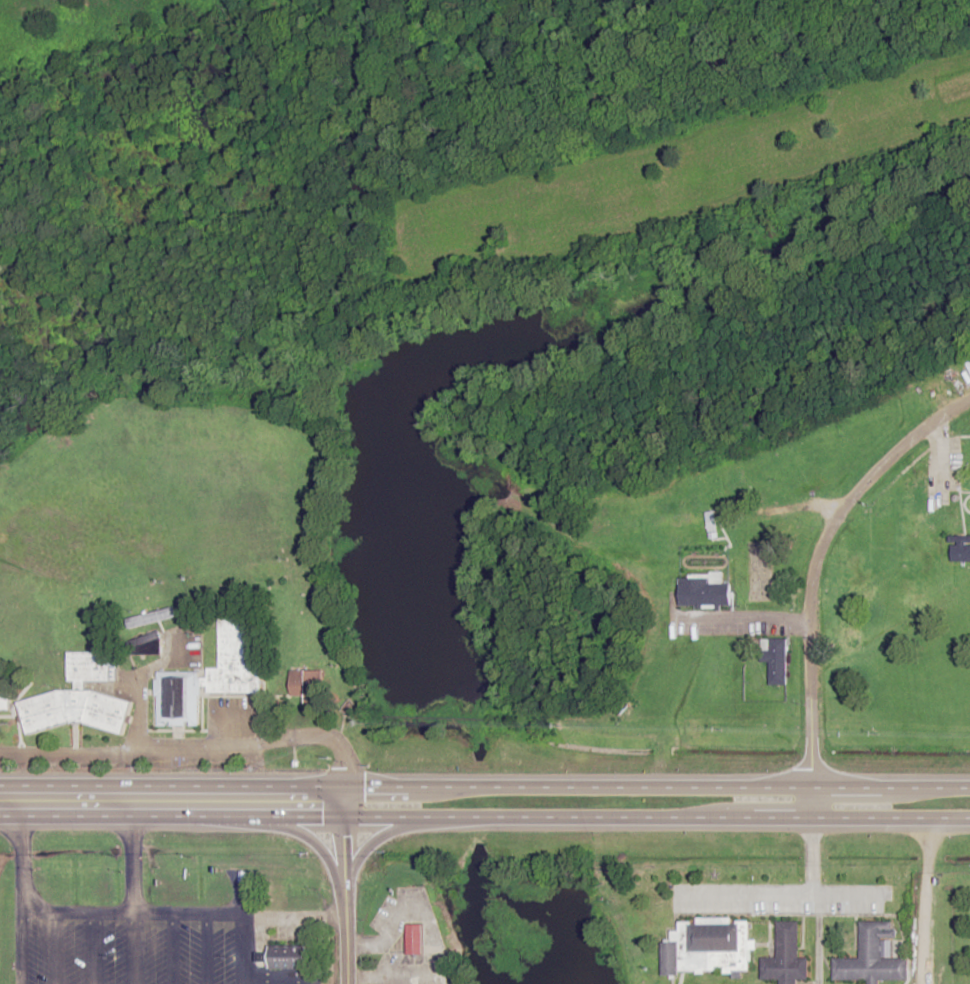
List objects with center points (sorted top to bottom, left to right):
crop: (682, 171)
building: (953, 384)
building: (920, 475)
building: (734, 484)
building: (904, 484)
road: (803, 506)
building: (959, 549)
road: (816, 560)
building: (704, 592)
building: (852, 600)
building: (149, 617)
road: (745, 620)
building: (145, 643)
building: (774, 659)
building: (207, 678)
building: (307, 685)
building: (78, 698)
building: (8, 702)
parking lot: (229, 717)
road: (192, 750)
road: (64, 786)
traffic signals: (348, 786)
road: (548, 787)
traffic signals: (347, 817)
road: (484, 817)
road: (132, 884)
road: (346, 884)
road: (814, 885)
road: (17, 900)
road: (922, 900)
road: (75, 911)
road: (222, 914)
building: (415, 938)
building: (712, 944)
road: (56, 947)
road: (95, 948)
road: (172, 949)
road: (206, 949)
parking lot: (37, 951)
parking lot: (73, 951)
parking lot: (114, 951)
parking lot: (154, 952)
parking lot: (189, 952)
parking lot: (222, 952)
building: (288, 956)
building: (786, 956)
building: (872, 957)
road: (279, 978)
road: (276, 981)

